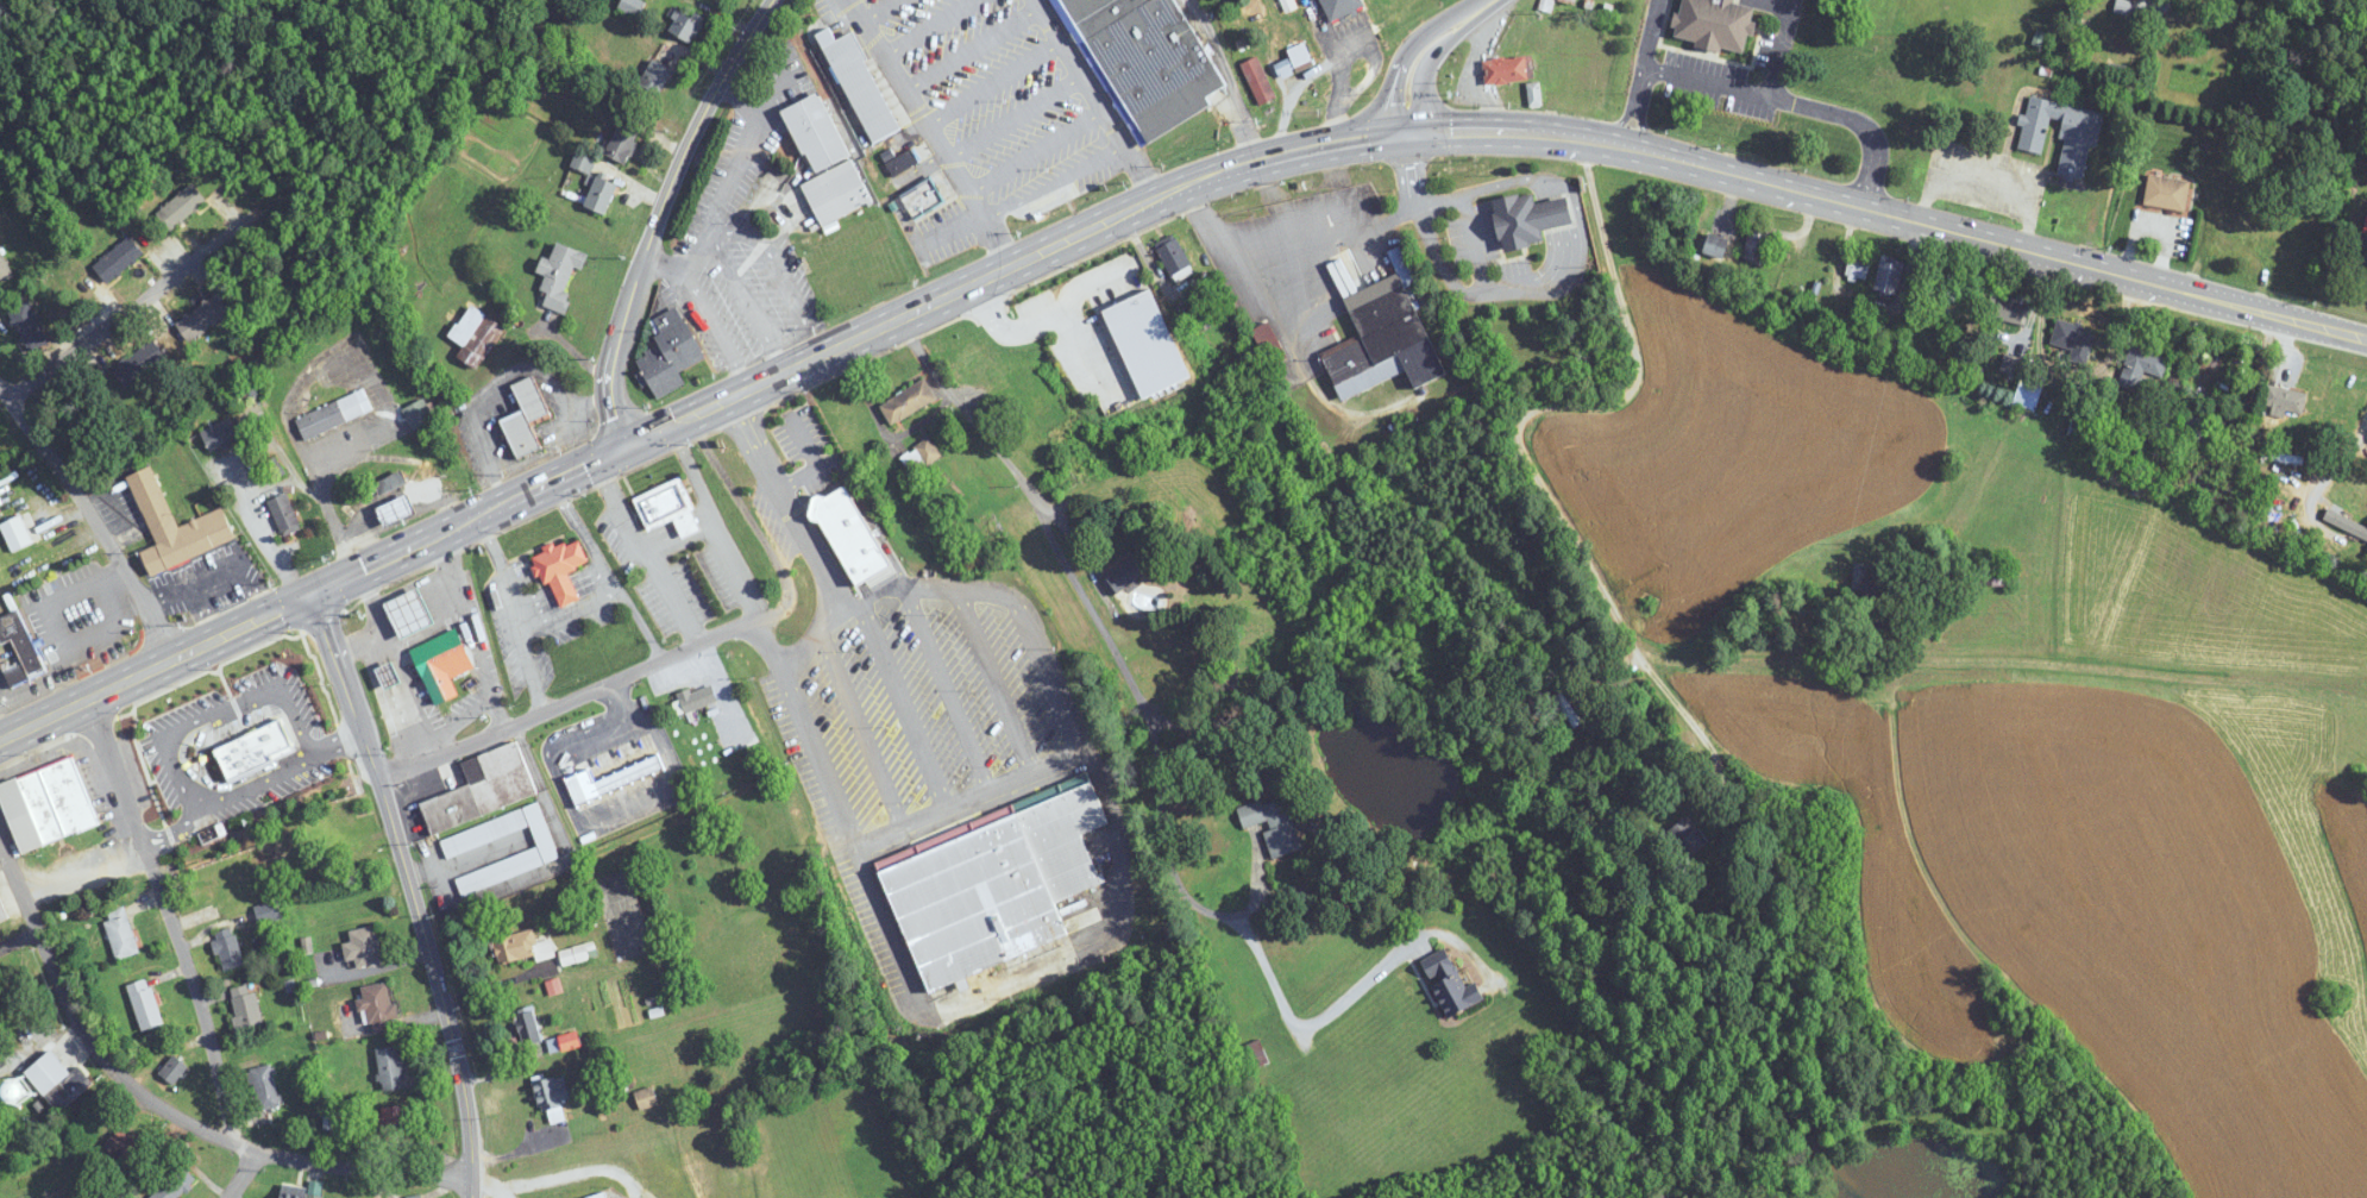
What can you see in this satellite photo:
building: (632, 7)
building: (1339, 8)
building: (1715, 24)
building: (684, 25)
road: (558, 27)
road: (1423, 49)
road: (972, 50)
building: (1300, 57)
building: (1143, 62)
building: (1508, 69)
road: (1080, 74)
building: (655, 76)
road: (1229, 79)
road: (1696, 79)
building: (860, 84)
road: (1638, 98)
road: (1815, 105)
road: (917, 114)
traffic signals: (1406, 130)
building: (816, 132)
building: (2061, 132)
building: (622, 143)
road: (742, 151)
road: (1294, 151)
building: (903, 162)
road: (1411, 167)
road: (1141, 171)
road: (1531, 178)
road: (1763, 181)
road: (1336, 186)
road: (1057, 188)
road: (1170, 189)
building: (2167, 192)
building: (836, 193)
building: (601, 194)
building: (918, 197)
road: (1277, 201)
building: (181, 206)
road: (663, 213)
road: (1556, 214)
building: (1531, 218)
road: (1084, 231)
road: (721, 233)
building: (2362, 243)
building: (1716, 244)
building: (1756, 244)
road: (1000, 247)
road: (1279, 247)
road: (1434, 249)
road: (697, 253)
building: (1175, 258)
road: (1561, 258)
building: (118, 259)
road: (666, 265)
building: (1858, 265)
building: (4, 269)
building: (560, 274)
building: (1889, 276)
road: (787, 281)
building: (1945, 286)
road: (151, 294)
road: (2241, 303)
road: (748, 305)
building: (2009, 309)
building: (202, 316)
building: (27, 326)
road: (717, 330)
building: (475, 334)
building: (1383, 337)
building: (2074, 340)
building: (1269, 343)
building: (668, 352)
building: (139, 363)
building: (2010, 364)
building: (2141, 366)
building: (981, 372)
building: (1043, 390)
building: (2028, 396)
building: (2286, 399)
building: (908, 401)
building: (333, 414)
building: (417, 414)
building: (525, 418)
building: (843, 420)
building: (2191, 427)
building: (219, 434)
traffic signals: (627, 445)
road: (1593, 457)
road: (2336, 466)
road: (695, 475)
road: (319, 490)
building: (394, 497)
road: (504, 501)
building: (668, 508)
road: (621, 509)
road: (251, 514)
building: (284, 514)
road: (93, 516)
road: (55, 519)
building: (175, 527)
building: (15, 533)
road: (722, 535)
building: (850, 535)
road: (817, 556)
building: (561, 569)
building: (1992, 572)
building: (1125, 573)
road: (84, 584)
building: (1866, 587)
traffic signals: (314, 588)
road: (673, 600)
road: (566, 611)
building: (410, 613)
road: (641, 621)
road: (379, 622)
road: (471, 627)
building: (20, 646)
building: (442, 664)
road: (1122, 669)
road: (532, 670)
building: (396, 695)
road: (567, 697)
building: (698, 698)
building: (1567, 710)
road: (7, 713)
road: (448, 725)
road: (169, 742)
road: (338, 745)
road: (1043, 765)
building: (611, 779)
building: (325, 784)
building: (483, 789)
building: (46, 805)
road: (183, 824)
building: (1274, 824)
building: (337, 827)
road: (170, 834)
building: (1687, 838)
building: (194, 842)
building: (540, 852)
building: (993, 885)
road: (409, 889)
building: (213, 892)
building: (268, 911)
building: (2, 912)
road: (171, 916)
building: (120, 932)
building: (519, 945)
building: (364, 947)
building: (227, 948)
building: (577, 953)
road: (1377, 970)
building: (1452, 989)
building: (145, 1004)
building: (378, 1006)
building: (246, 1010)
building: (528, 1025)
building: (570, 1041)
building: (1252, 1055)
building: (390, 1067)
building: (172, 1070)
building: (49, 1083)
building: (264, 1087)
building: (646, 1098)
road: (162, 1106)
building: (124, 1148)
road: (575, 1171)
road: (241, 1173)
building: (176, 1184)
road: (485, 1188)
building: (303, 1191)
road: (503, 1193)

